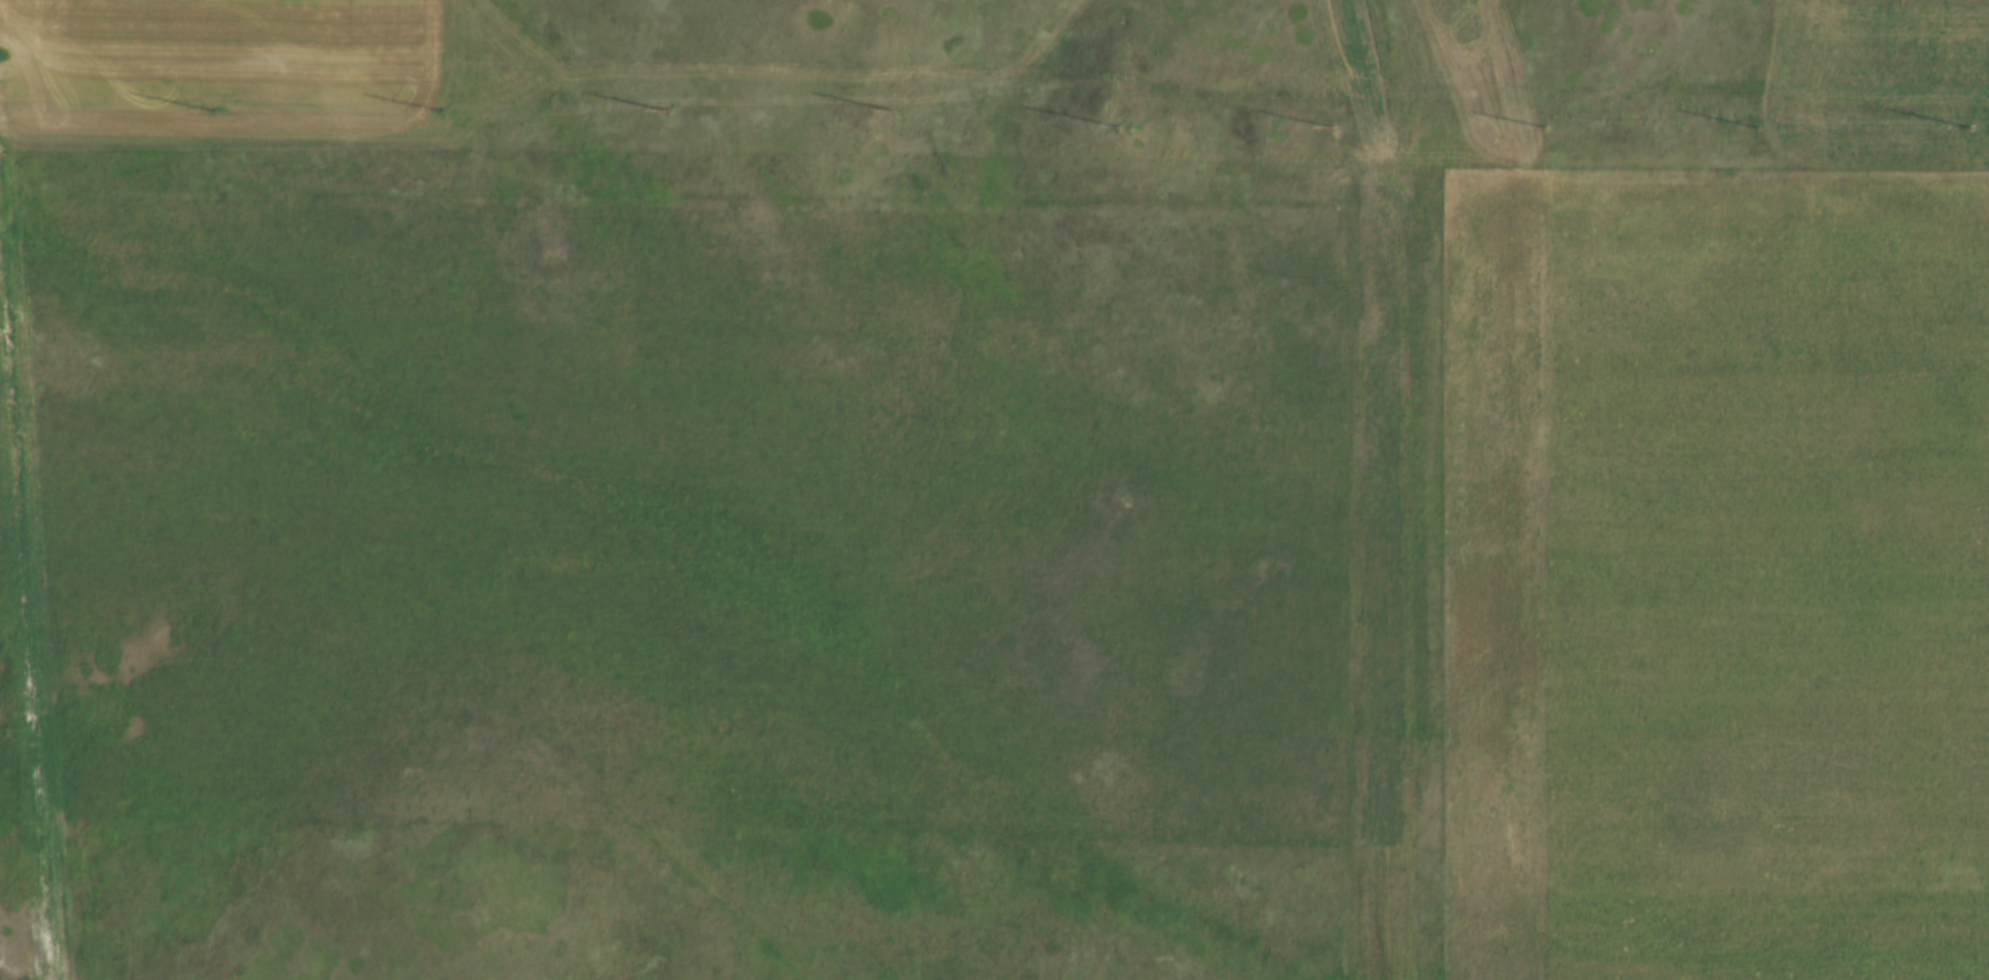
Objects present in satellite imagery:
road: (696, 915)

